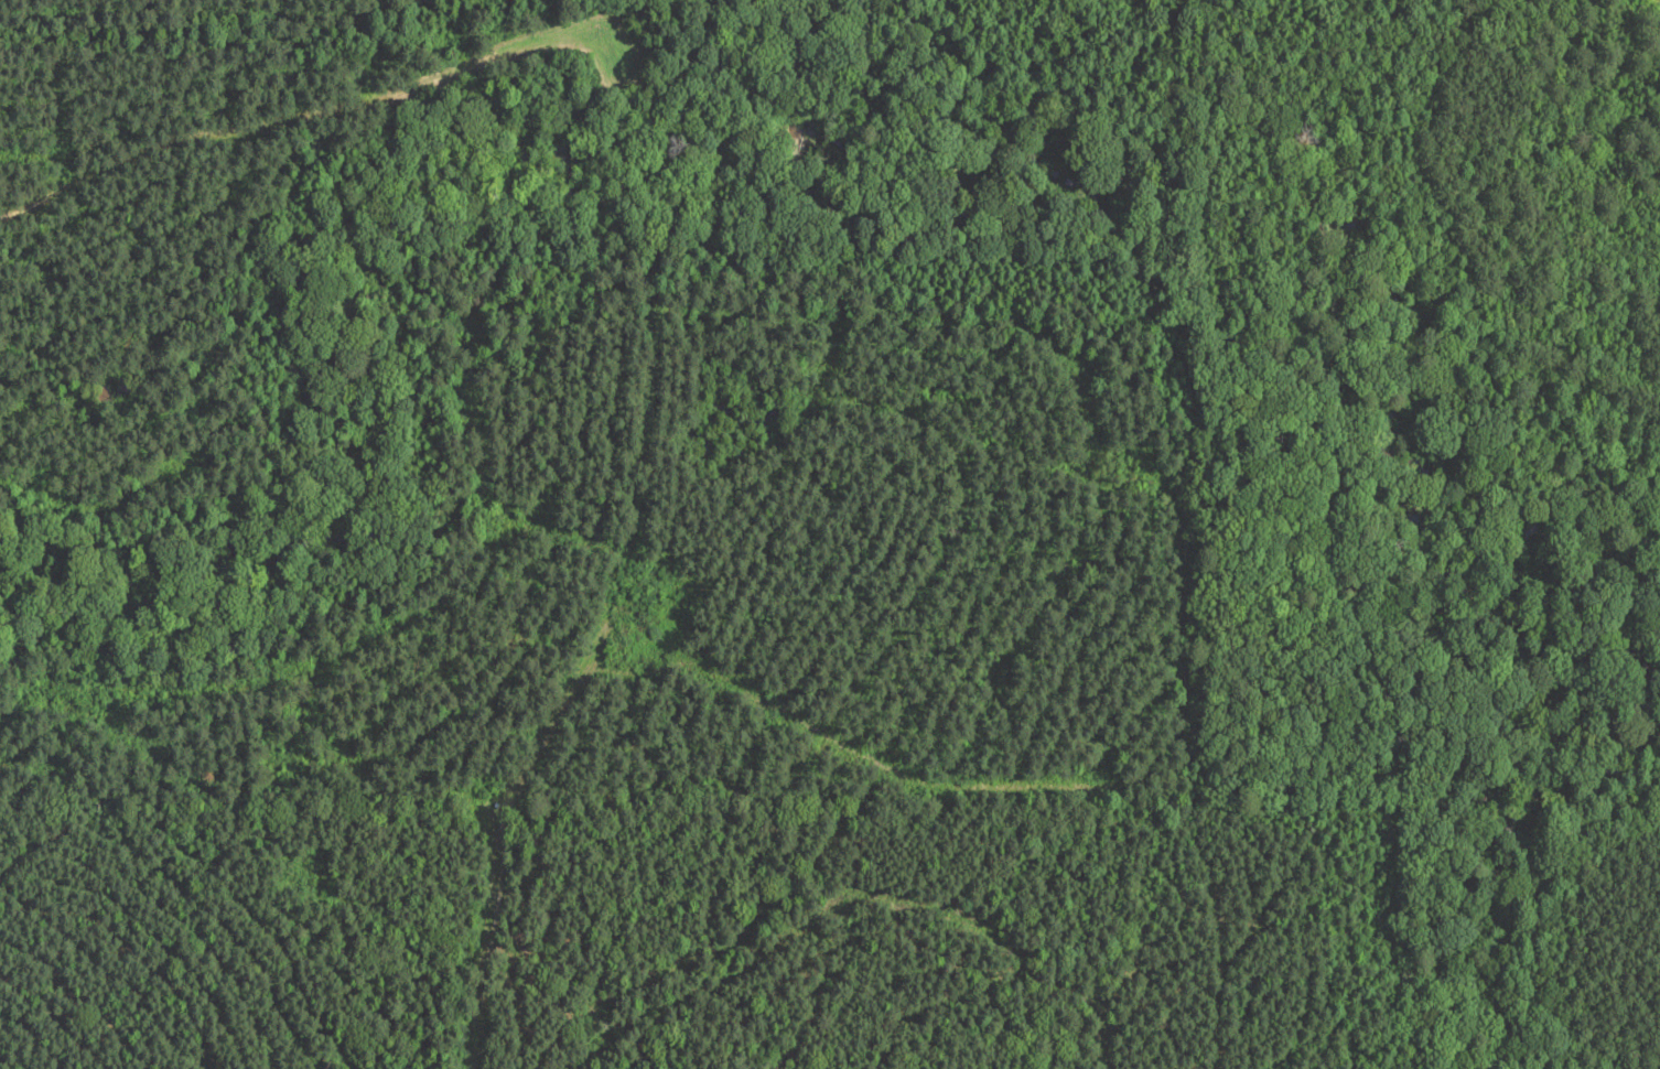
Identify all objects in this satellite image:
road: (21, 1059)

